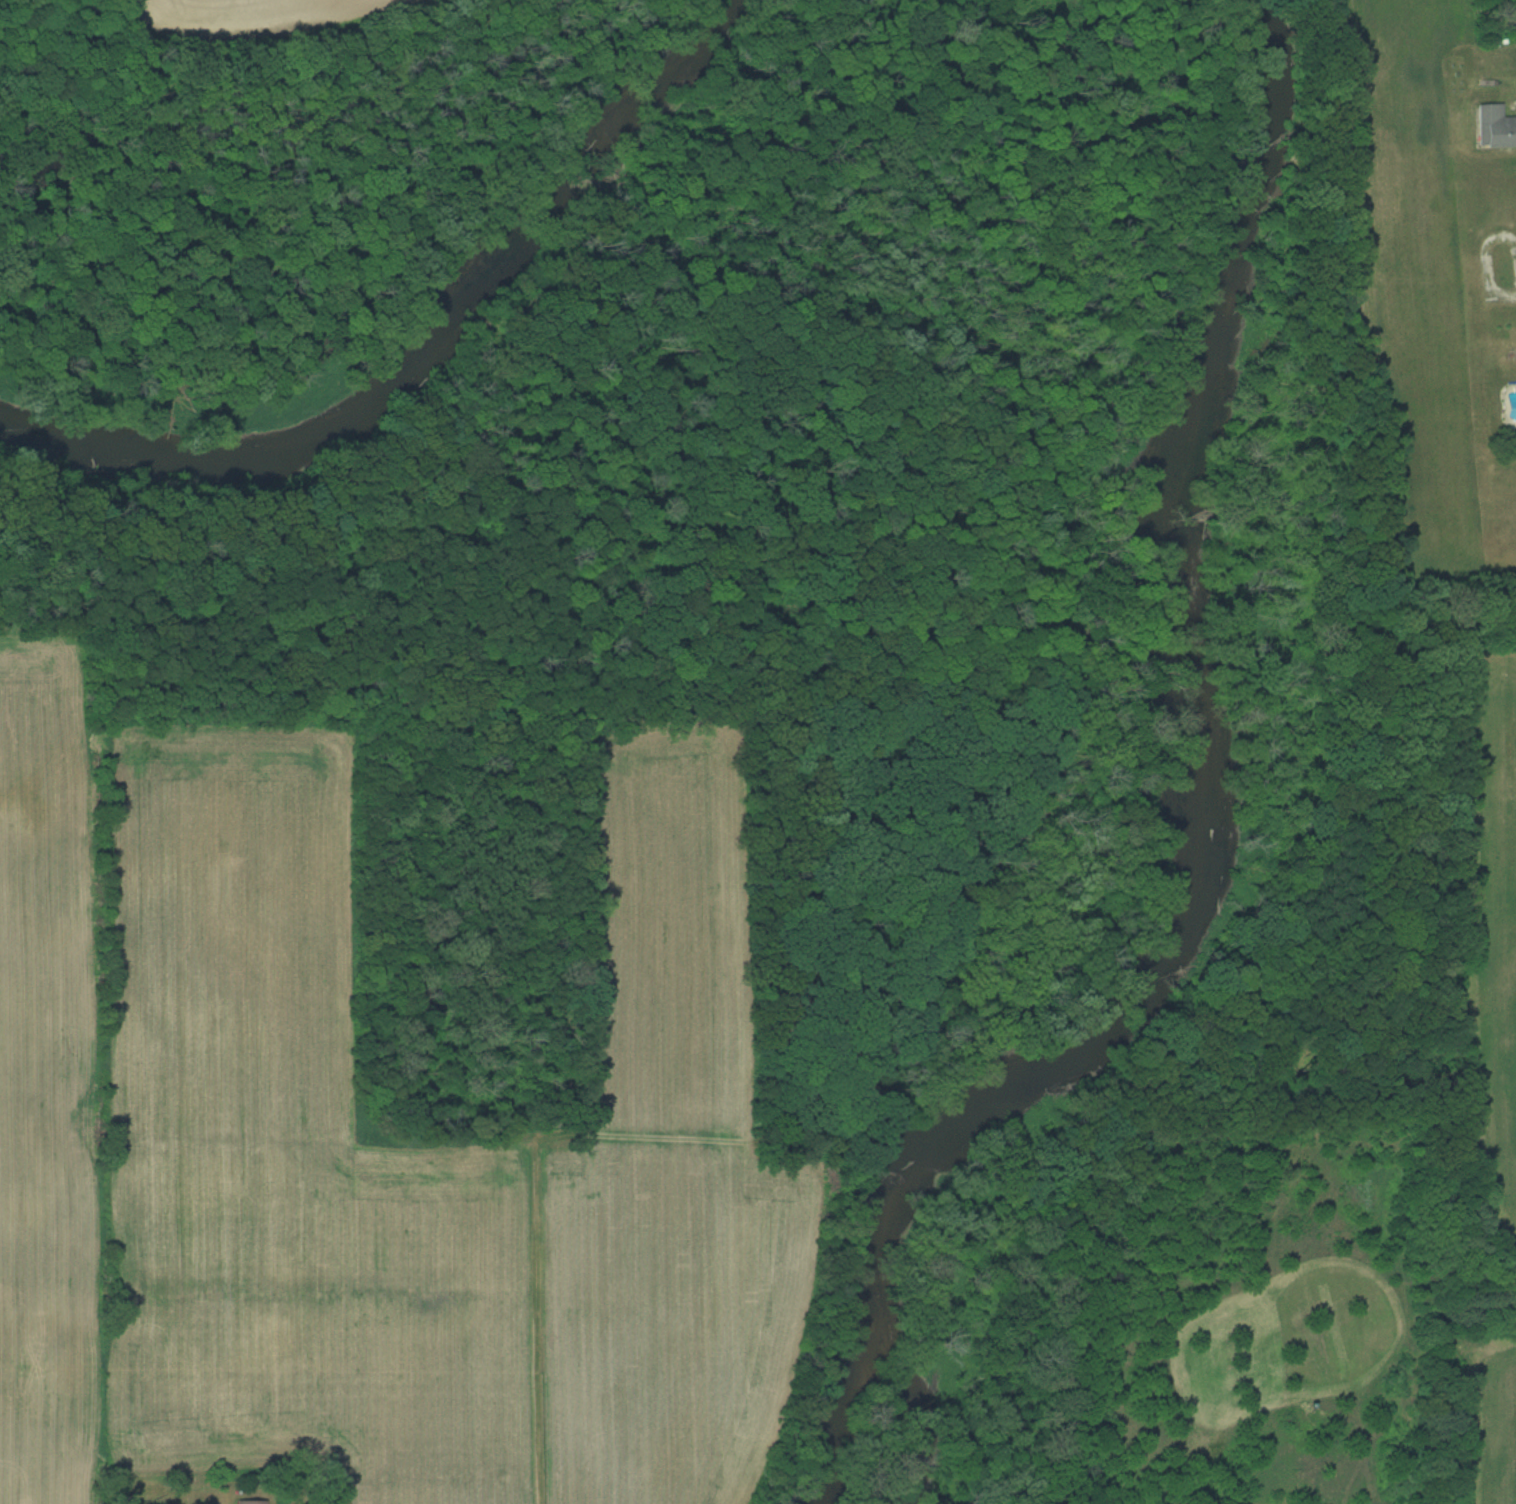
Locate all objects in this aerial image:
building: (1497, 125)
road: (1510, 275)
river: (428, 352)
river: (1208, 819)
building: (251, 1502)

